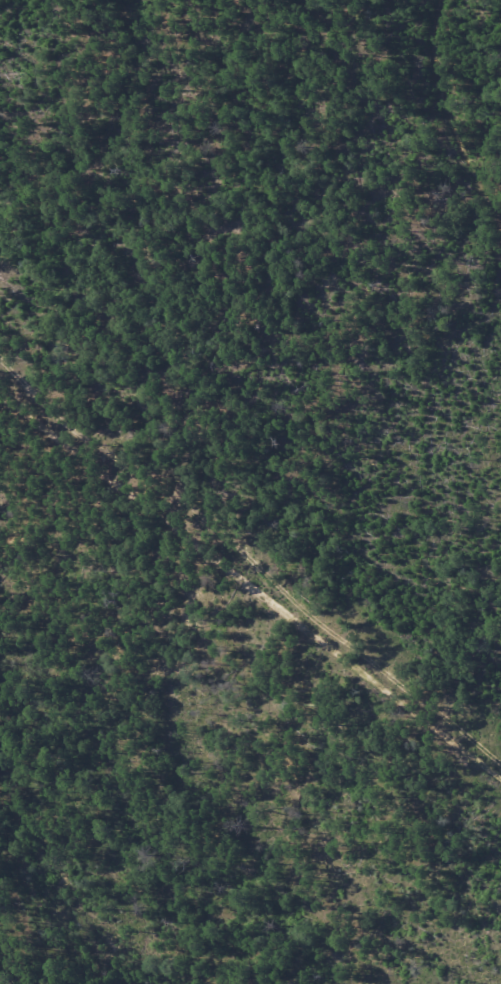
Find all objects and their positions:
park: (212, 756)

